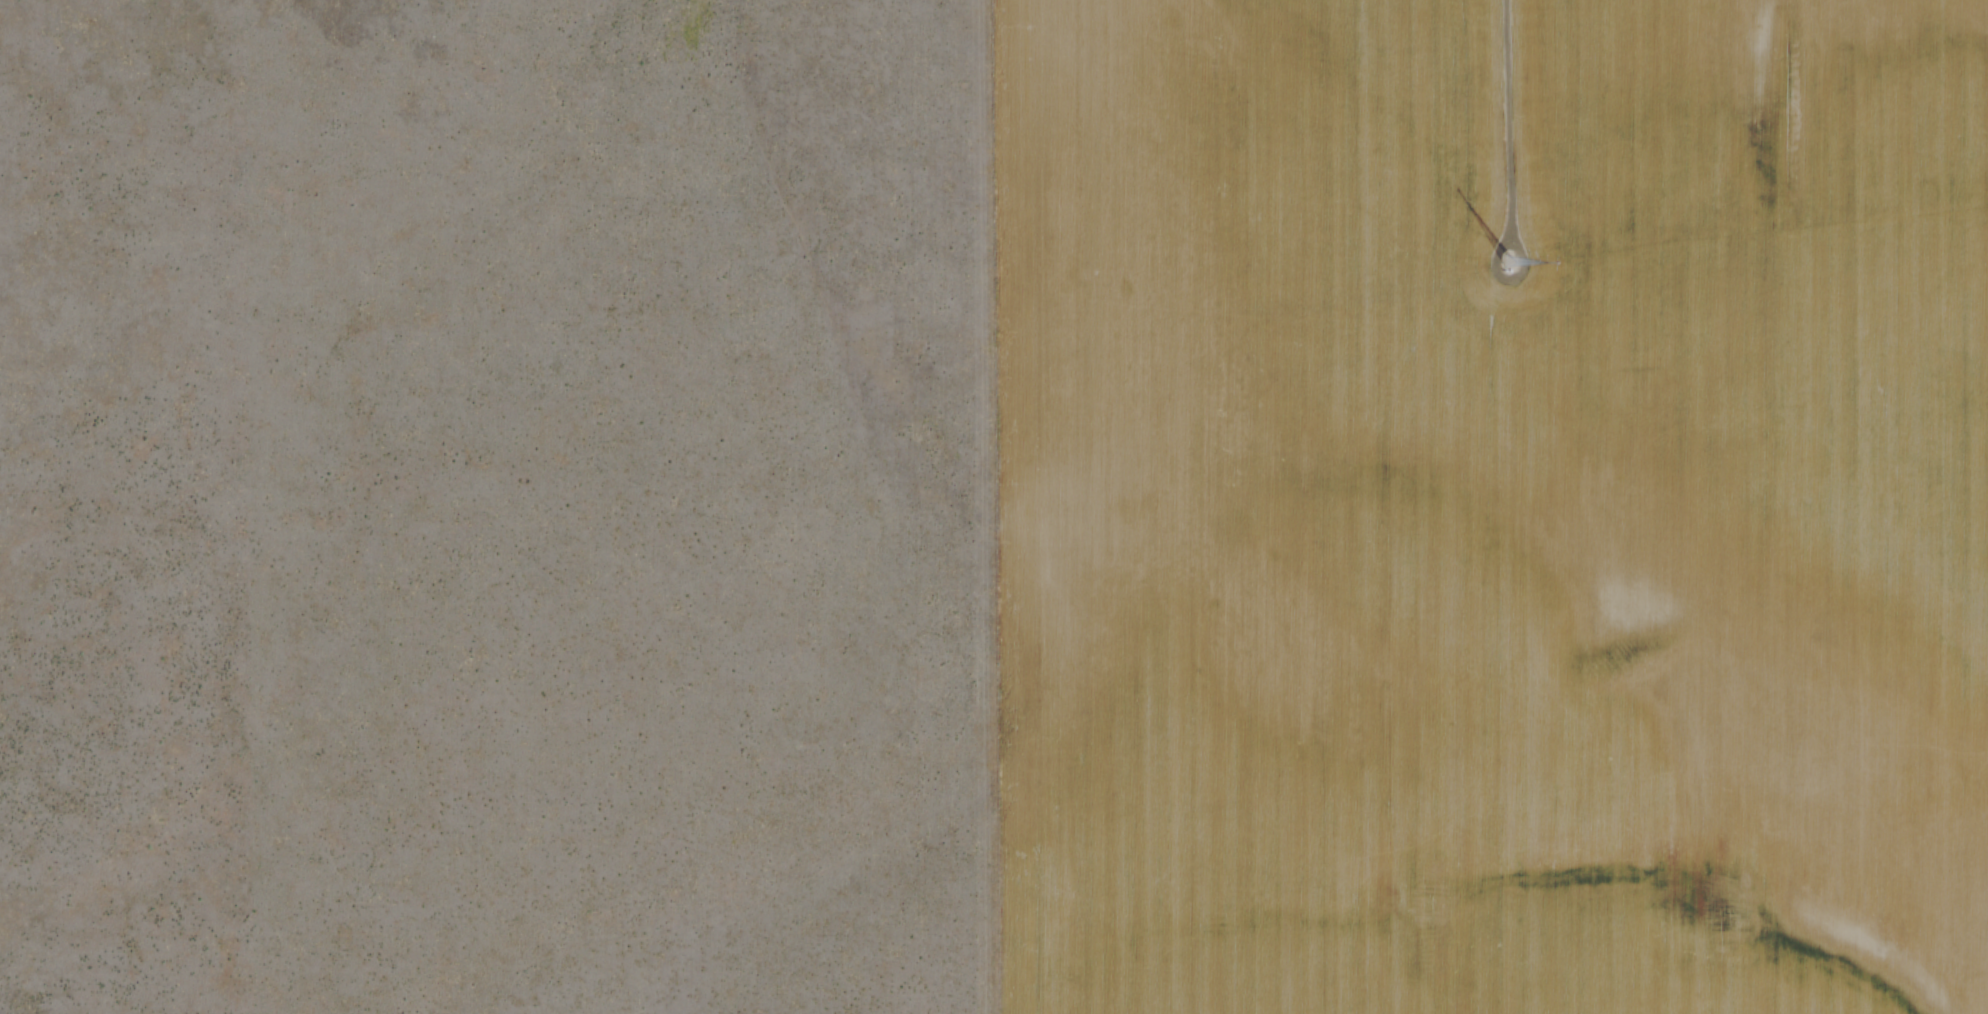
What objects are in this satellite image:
road: (1505, 111)

